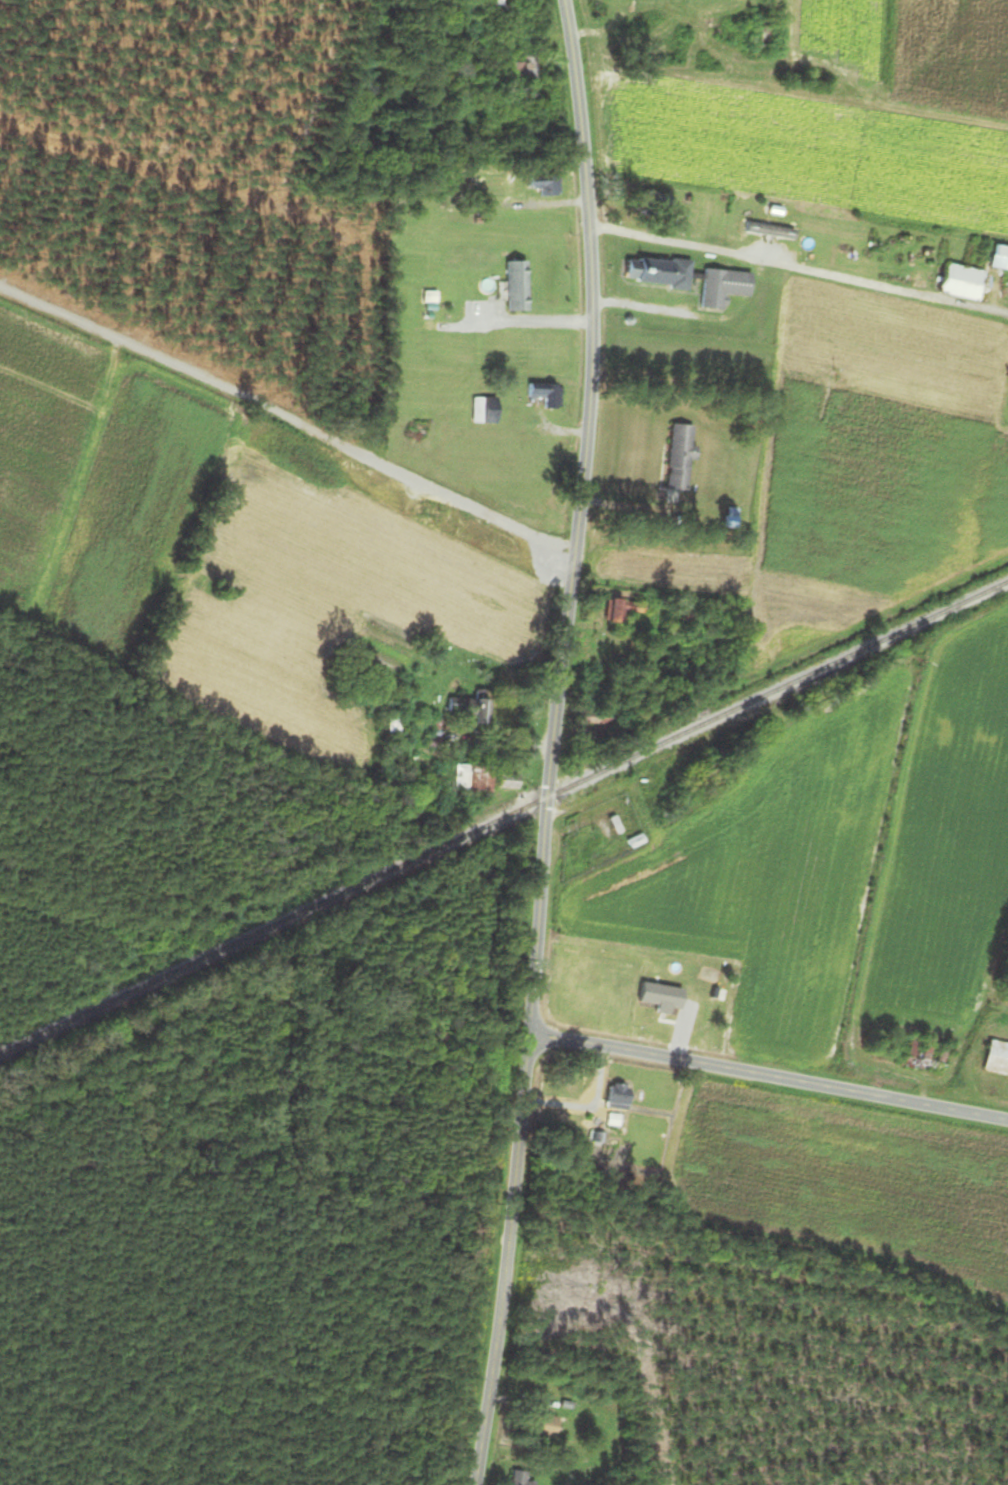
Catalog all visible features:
building: (496, 6)
building: (759, 41)
building: (526, 67)
building: (551, 185)
building: (658, 200)
building: (767, 230)
building: (997, 258)
road: (802, 264)
building: (658, 272)
building: (958, 281)
building: (515, 286)
building: (721, 286)
building: (482, 409)
road: (286, 416)
building: (676, 455)
building: (730, 517)
building: (624, 608)
building: (466, 707)
building: (593, 718)
road: (551, 743)
building: (470, 780)
railway: (503, 815)
building: (613, 824)
building: (634, 840)
building: (611, 996)
building: (585, 998)
building: (995, 1057)
road: (768, 1075)
building: (615, 1096)
building: (537, 1425)
building: (516, 1476)

